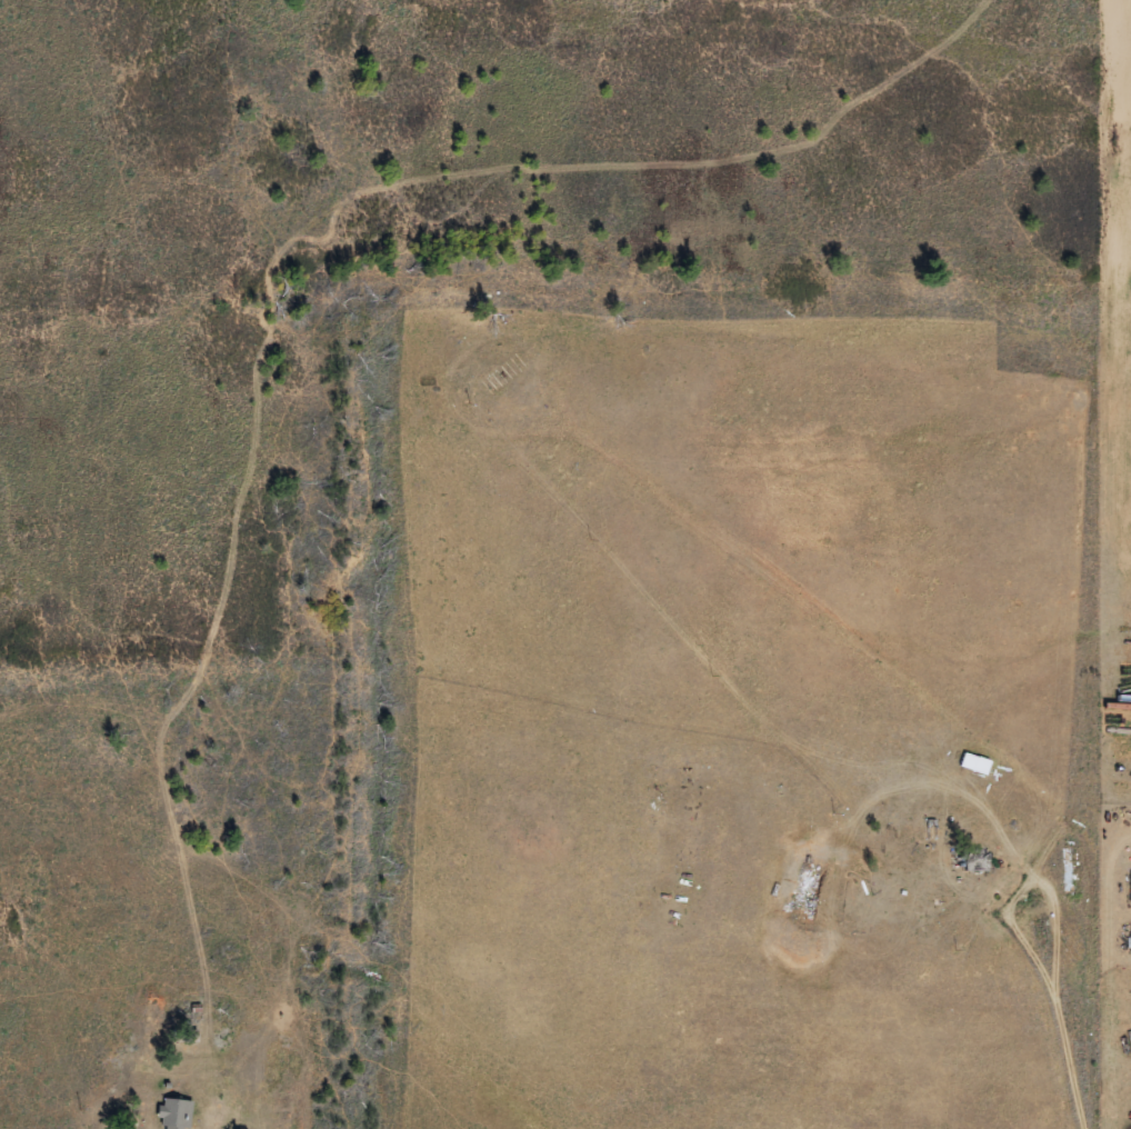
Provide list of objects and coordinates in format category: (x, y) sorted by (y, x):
building: (974, 766)
building: (178, 1115)

